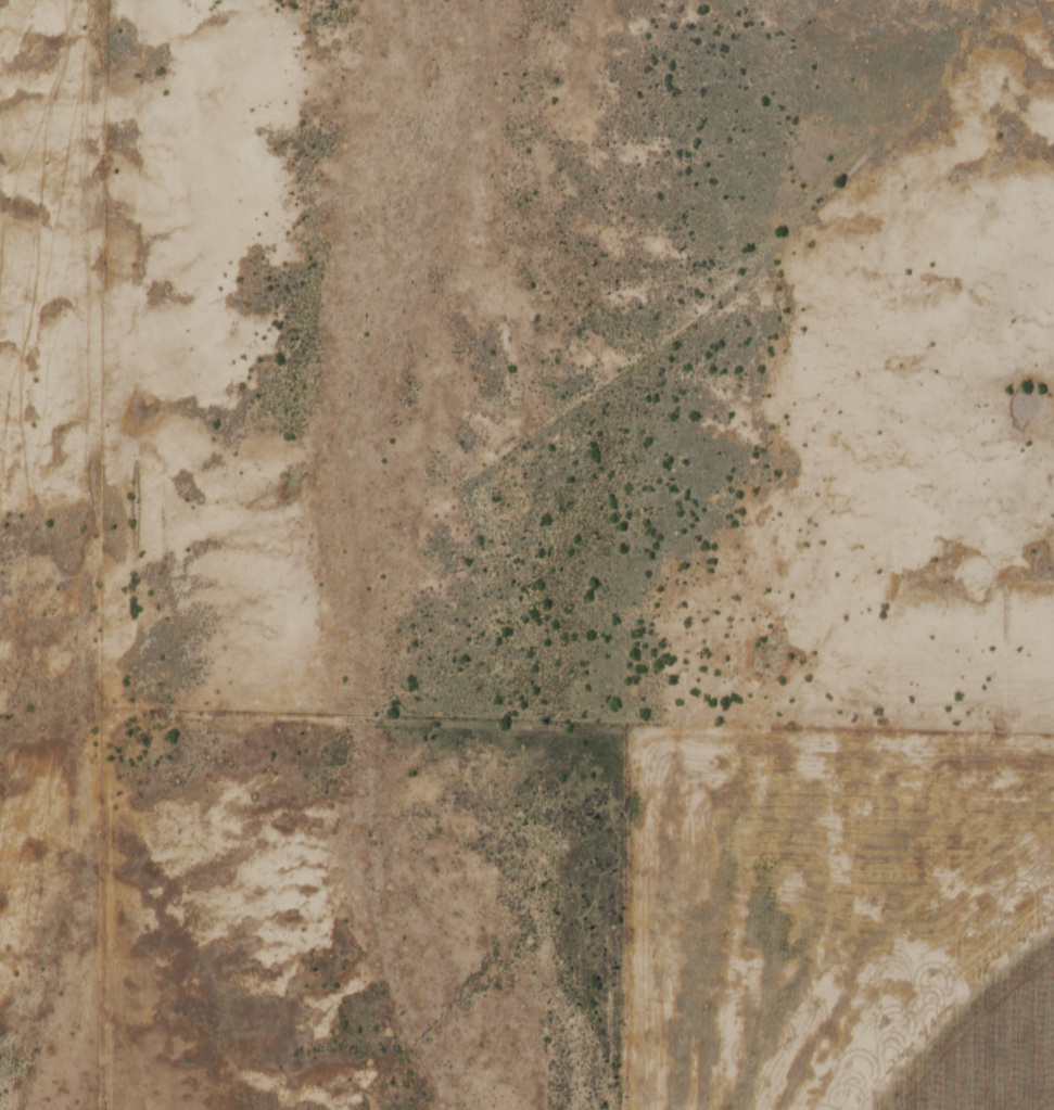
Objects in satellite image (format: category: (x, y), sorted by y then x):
crop: (991, 1047)

